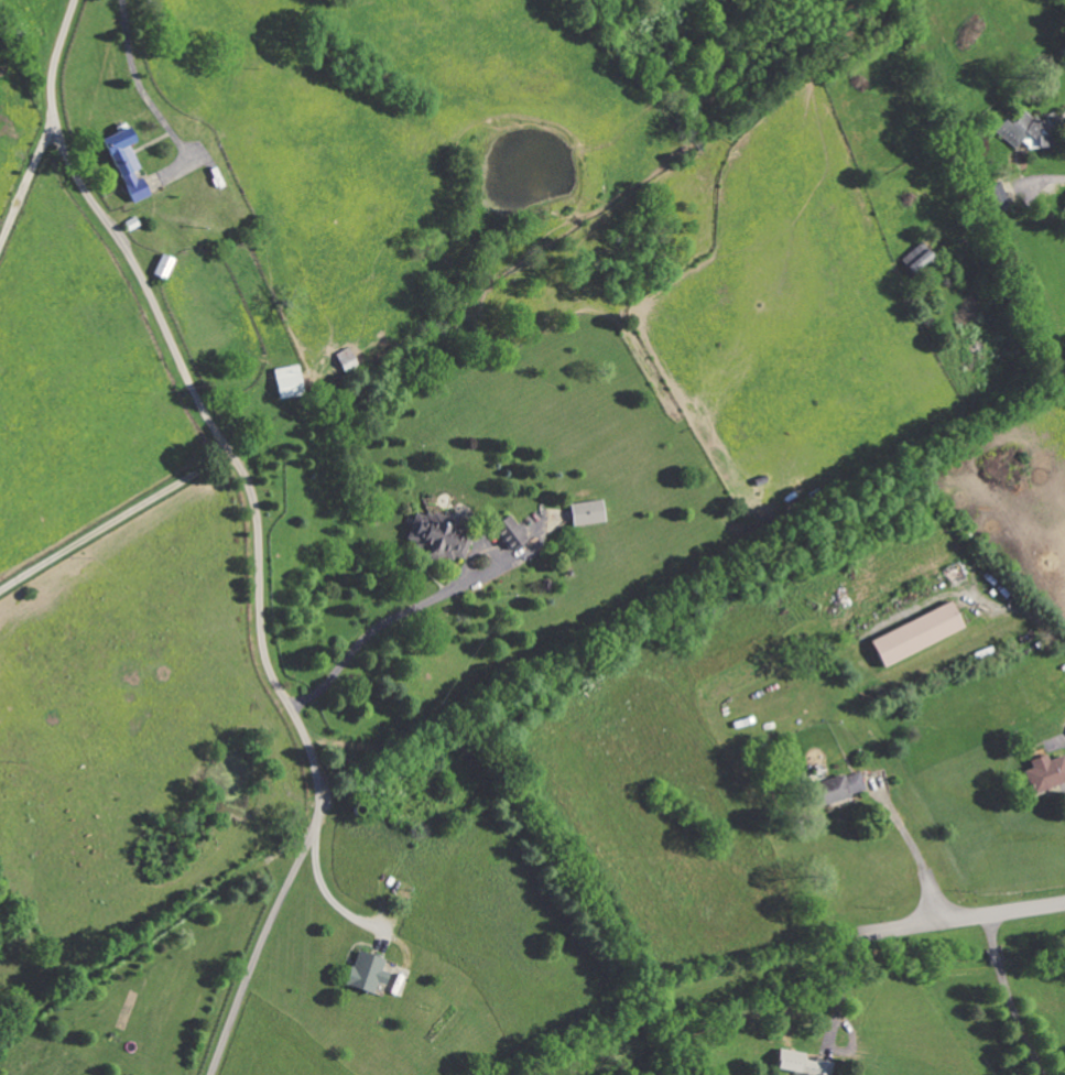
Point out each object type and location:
road: (132, 61)
building: (1021, 132)
building: (117, 151)
road: (28, 171)
road: (1051, 181)
building: (131, 186)
building: (995, 196)
road: (640, 352)
building: (344, 360)
building: (285, 382)
road: (115, 513)
building: (585, 513)
road: (261, 526)
building: (506, 533)
building: (437, 536)
building: (954, 574)
road: (1046, 618)
road: (363, 633)
building: (914, 636)
building: (1044, 773)
building: (837, 789)
road: (926, 858)
road: (325, 889)
road: (969, 916)
building: (363, 974)
road: (1018, 996)
road: (836, 1017)
building: (798, 1064)

